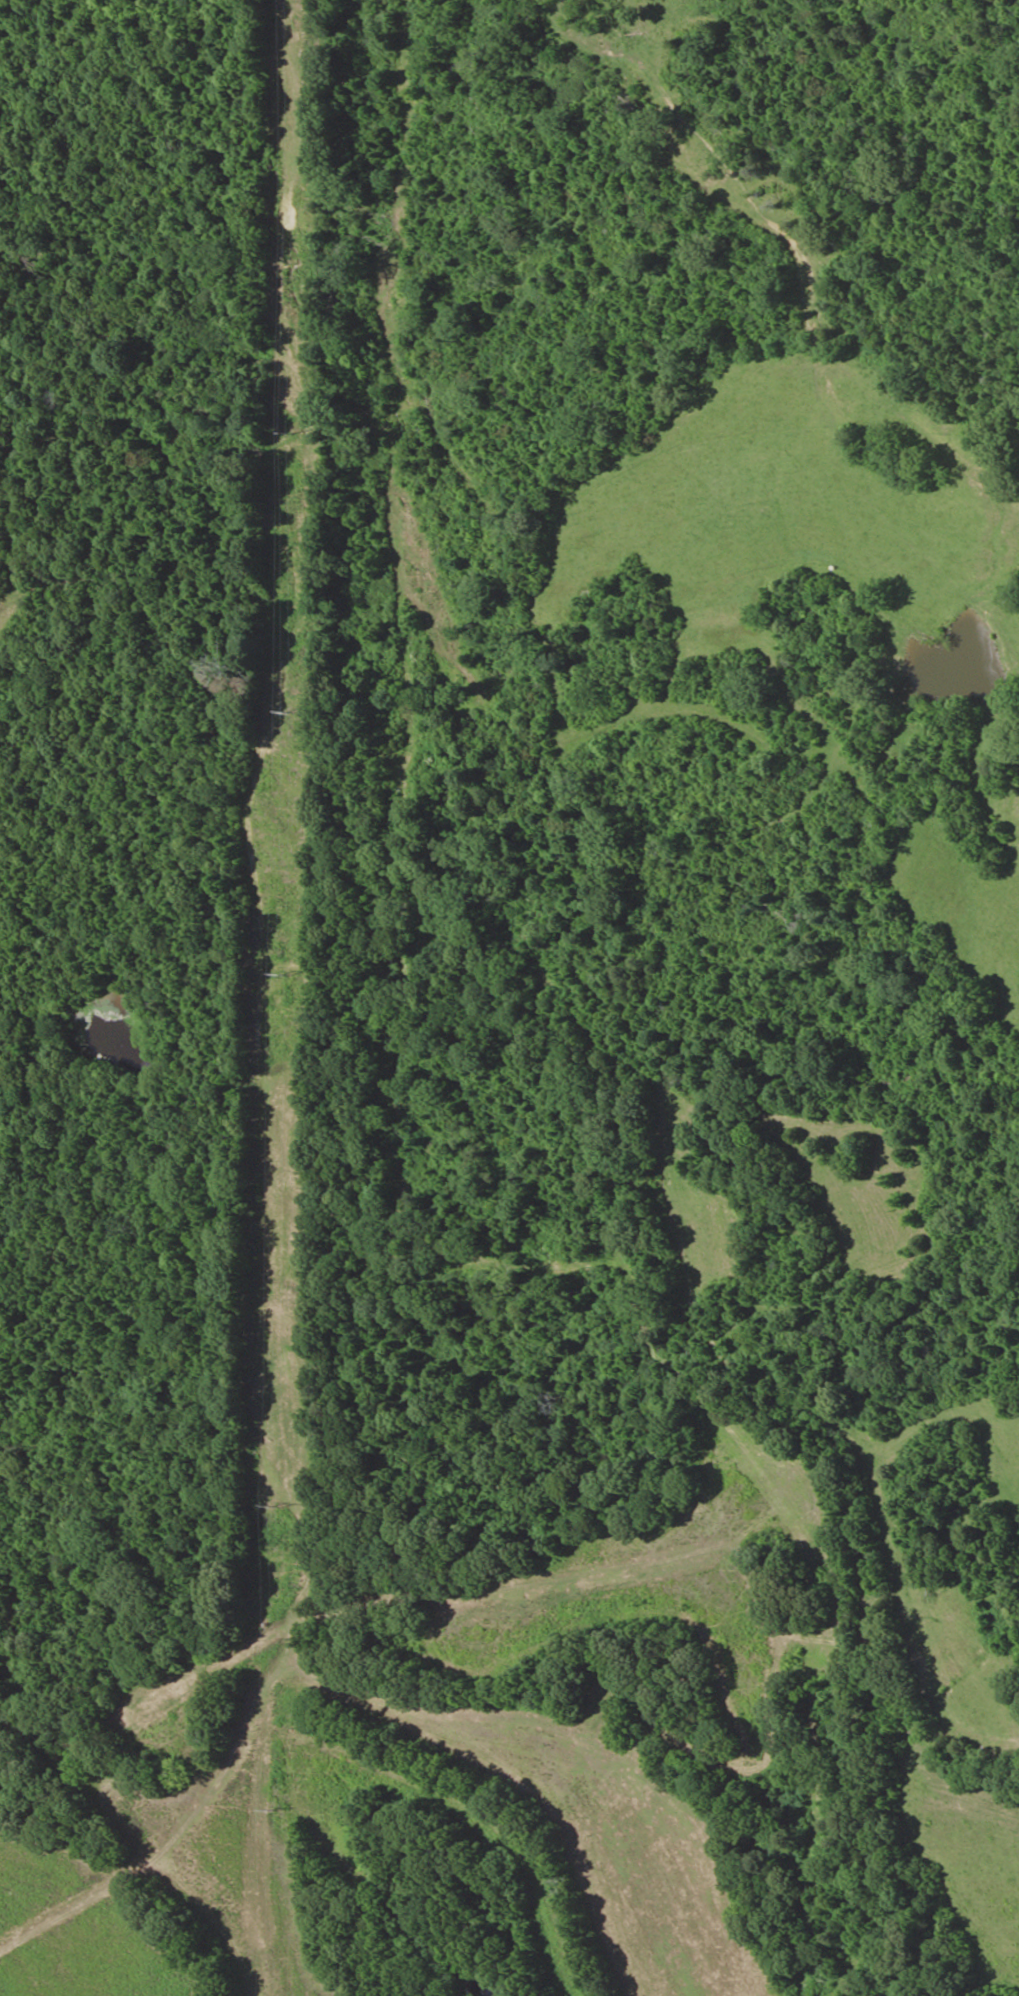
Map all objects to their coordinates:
road: (598, 62)
road: (929, 1634)

